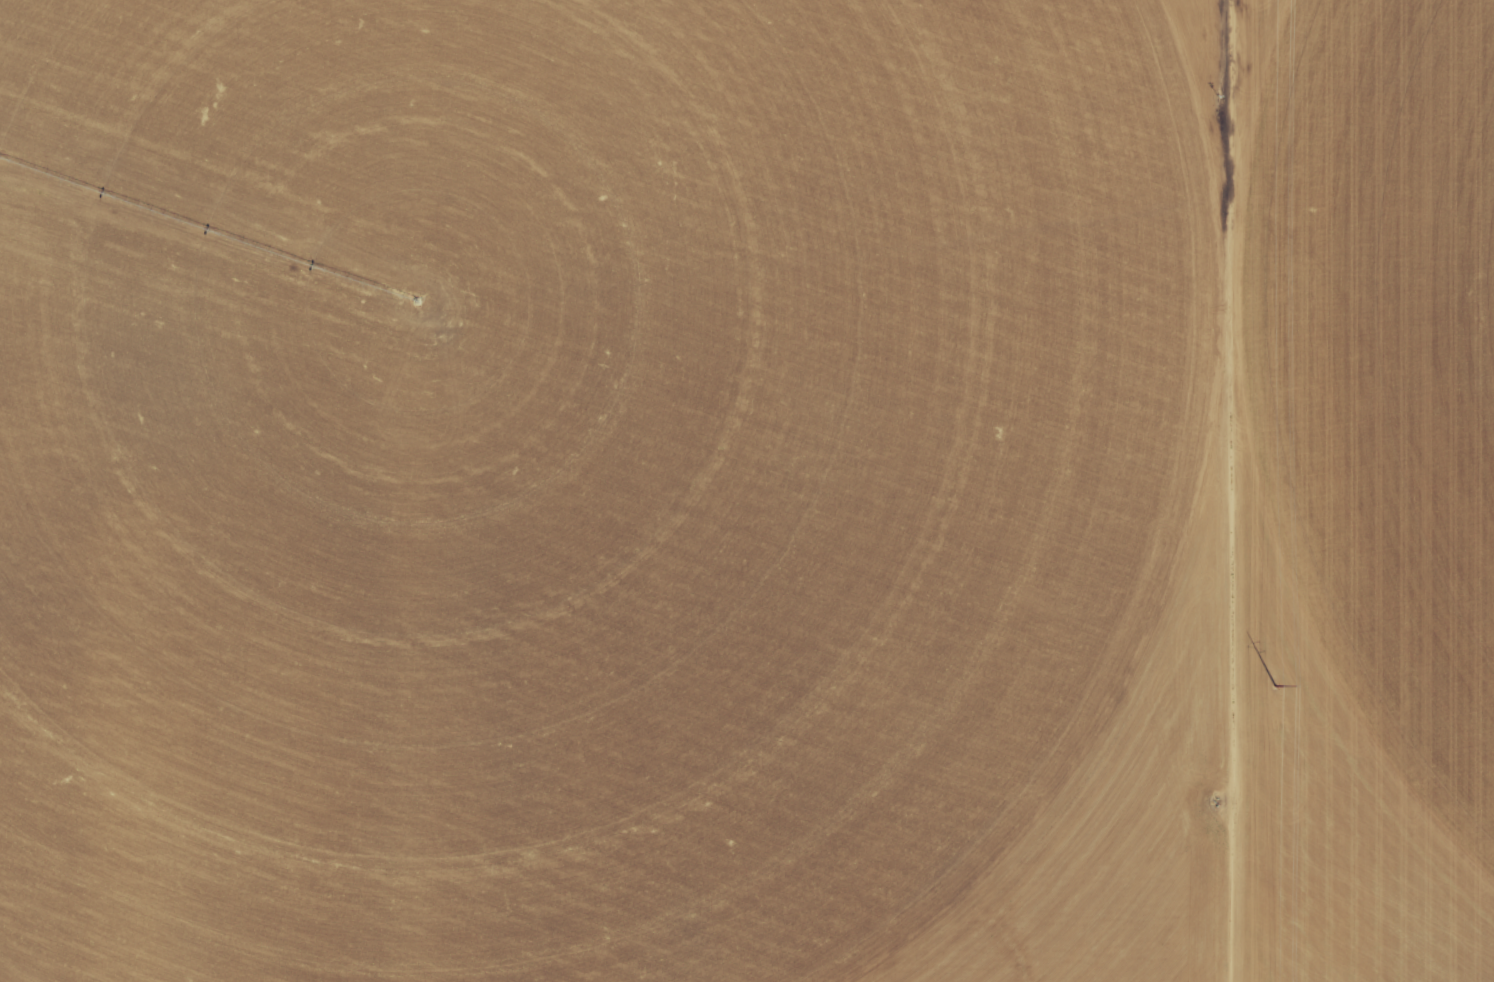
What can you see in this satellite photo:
power tower: (1273, 688)

